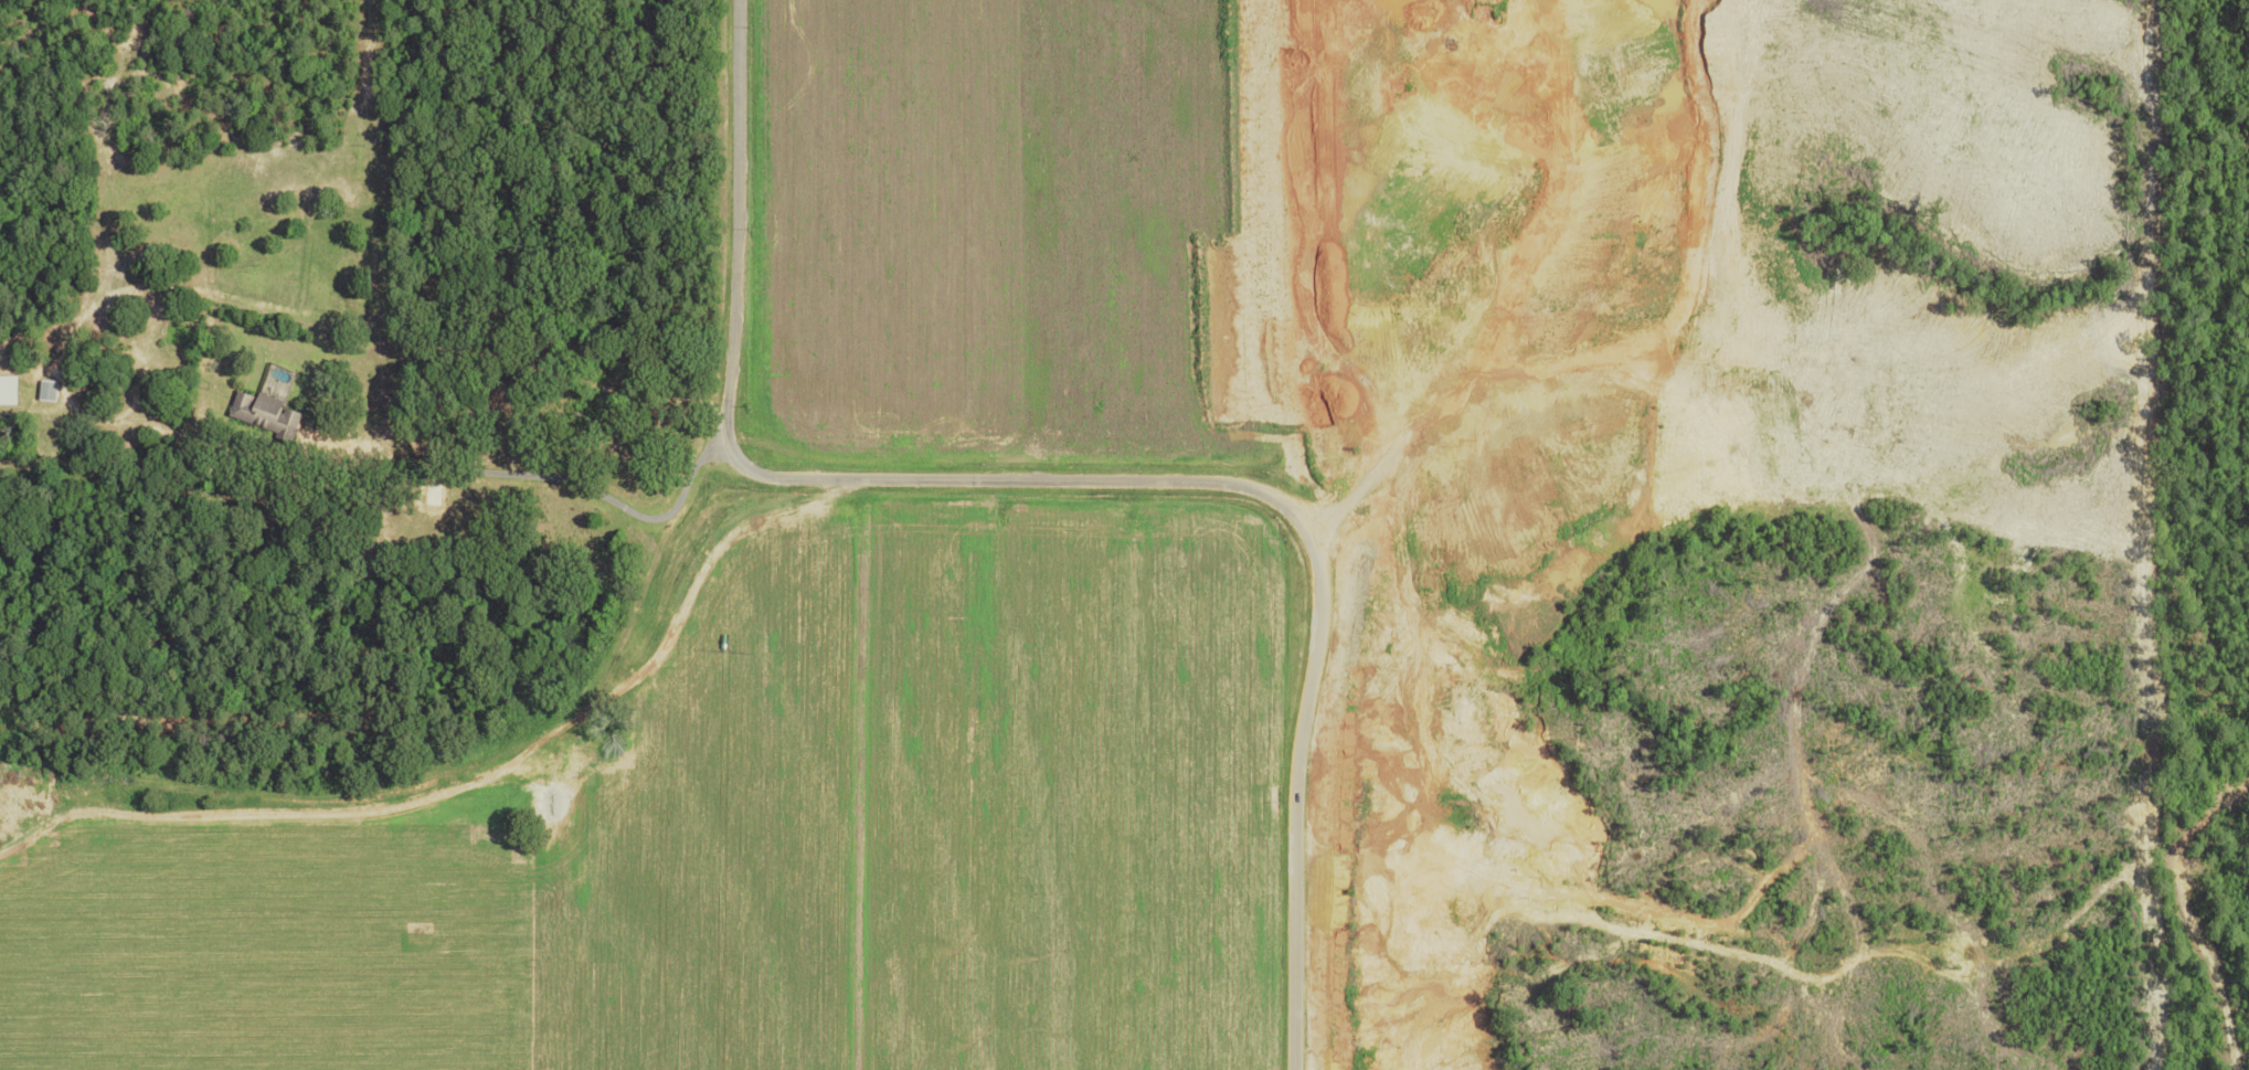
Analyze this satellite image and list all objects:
building: (8, 390)
building: (49, 390)
road: (522, 473)
road: (1065, 484)

